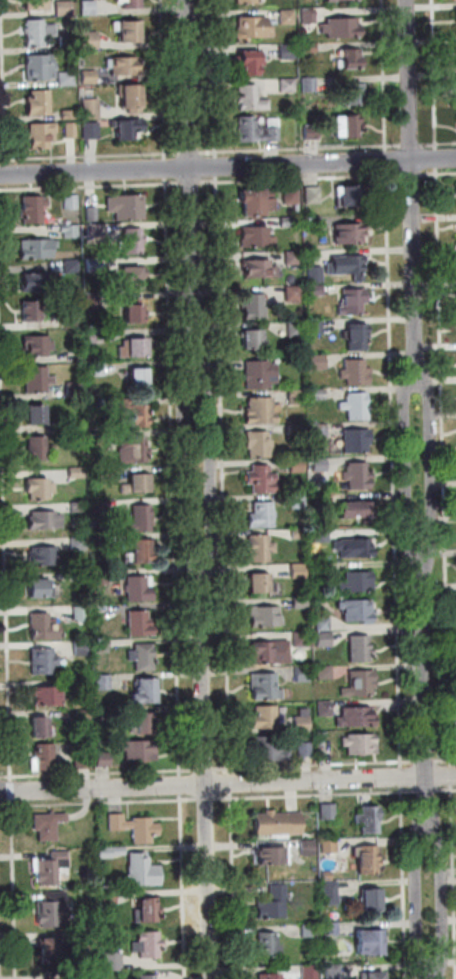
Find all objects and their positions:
building: (338, 0)
building: (246, 1)
building: (130, 3)
building: (36, 4)
building: (65, 8)
building: (89, 8)
building: (309, 16)
building: (288, 17)
building: (455, 17)
building: (254, 28)
building: (343, 28)
building: (128, 31)
building: (39, 32)
building: (90, 41)
building: (67, 43)
building: (309, 48)
building: (455, 49)
building: (288, 52)
building: (352, 59)
building: (251, 63)
building: (123, 66)
building: (40, 67)
road: (435, 75)
road: (385, 76)
building: (89, 77)
road: (214, 78)
building: (66, 79)
road: (164, 79)
road: (4, 82)
road: (189, 83)
building: (288, 85)
building: (310, 85)
building: (354, 93)
building: (132, 98)
building: (251, 99)
building: (39, 102)
building: (91, 109)
building: (69, 116)
building: (348, 127)
building: (127, 129)
building: (71, 130)
building: (91, 130)
building: (258, 130)
building: (312, 133)
building: (42, 135)
road: (438, 143)
road: (411, 145)
road: (301, 150)
road: (192, 153)
road: (94, 156)
road: (437, 159)
road: (387, 160)
road: (216, 167)
road: (228, 167)
road: (166, 169)
road: (3, 172)
road: (439, 173)
road: (412, 174)
road: (302, 179)
road: (191, 183)
road: (90, 186)
road: (413, 192)
building: (313, 195)
building: (349, 195)
building: (292, 196)
building: (71, 202)
building: (257, 202)
building: (128, 207)
building: (33, 209)
building: (92, 214)
building: (288, 222)
building: (314, 223)
building: (95, 231)
building: (70, 232)
building: (349, 234)
building: (257, 238)
building: (133, 241)
building: (36, 249)
building: (293, 258)
building: (94, 265)
building: (348, 266)
building: (72, 267)
building: (260, 269)
building: (316, 275)
building: (132, 276)
road: (194, 281)
building: (36, 283)
building: (316, 290)
building: (294, 294)
building: (94, 301)
building: (353, 302)
building: (253, 306)
building: (32, 311)
building: (135, 311)
building: (73, 321)
building: (316, 327)
building: (296, 329)
building: (97, 336)
building: (357, 337)
building: (253, 339)
building: (38, 345)
building: (135, 348)
building: (318, 362)
building: (97, 369)
building: (356, 372)
building: (260, 374)
building: (139, 378)
building: (37, 379)
building: (73, 389)
building: (319, 394)
building: (296, 397)
building: (356, 406)
building: (263, 410)
building: (134, 412)
building: (35, 415)
building: (61, 428)
building: (296, 431)
building: (319, 431)
building: (98, 440)
building: (357, 440)
building: (260, 445)
building: (39, 448)
building: (133, 450)
building: (321, 465)
building: (297, 466)
road: (444, 467)
road: (394, 468)
road: (408, 469)
road: (431, 469)
building: (76, 473)
building: (107, 474)
road: (224, 475)
road: (185, 476)
road: (211, 476)
building: (358, 476)
road: (173, 477)
building: (262, 480)
building: (137, 484)
building: (39, 489)
building: (299, 501)
building: (78, 507)
building: (100, 508)
building: (358, 510)
building: (263, 515)
building: (141, 519)
building: (45, 521)
building: (95, 524)
road: (5, 533)
building: (300, 533)
building: (325, 535)
building: (101, 543)
building: (79, 544)
building: (260, 548)
building: (354, 548)
building: (139, 552)
building: (43, 556)
building: (324, 568)
building: (299, 571)
building: (101, 576)
building: (80, 577)
building: (358, 582)
building: (261, 583)
building: (40, 589)
building: (140, 589)
building: (301, 603)
building: (358, 611)
building: (81, 614)
building: (266, 617)
building: (140, 624)
building: (324, 624)
building: (44, 627)
building: (303, 639)
building: (325, 640)
building: (102, 647)
building: (82, 649)
building: (361, 649)
building: (270, 653)
building: (143, 657)
building: (43, 661)
building: (325, 672)
building: (303, 675)
building: (104, 682)
building: (361, 684)
building: (84, 685)
building: (266, 687)
building: (145, 692)
road: (425, 695)
building: (47, 696)
building: (326, 709)
building: (105, 714)
building: (84, 715)
building: (266, 718)
building: (356, 718)
building: (145, 723)
building: (302, 724)
building: (41, 727)
building: (362, 744)
building: (269, 749)
building: (139, 750)
building: (306, 750)
building: (46, 756)
building: (82, 760)
building: (103, 760)
road: (426, 761)
road: (446, 761)
road: (316, 765)
road: (205, 770)
road: (206, 770)
road: (104, 773)
road: (452, 776)
road: (402, 778)
road: (232, 784)
road: (181, 785)
road: (228, 785)
road: (12, 791)
road: (427, 791)
road: (447, 791)
road: (316, 795)
road: (206, 799)
road: (98, 802)
building: (329, 812)
building: (371, 821)
building: (279, 824)
building: (48, 825)
building: (135, 828)
building: (330, 846)
building: (308, 848)
road: (454, 849)
building: (111, 852)
building: (273, 856)
building: (60, 860)
building: (368, 860)
building: (143, 871)
building: (327, 876)
road: (404, 883)
road: (183, 886)
road: (234, 886)
road: (13, 889)
building: (331, 893)
building: (109, 897)
building: (373, 901)
road: (441, 902)
road: (419, 903)
building: (273, 904)
building: (53, 908)
building: (147, 911)
building: (331, 929)
building: (310, 931)
building: (89, 939)
building: (370, 943)
building: (267, 944)
building: (148, 945)
building: (51, 949)
building: (111, 964)
building: (311, 972)
building: (333, 972)
road: (432, 973)
building: (91, 976)
building: (271, 976)
building: (373, 976)
building: (149, 977)

